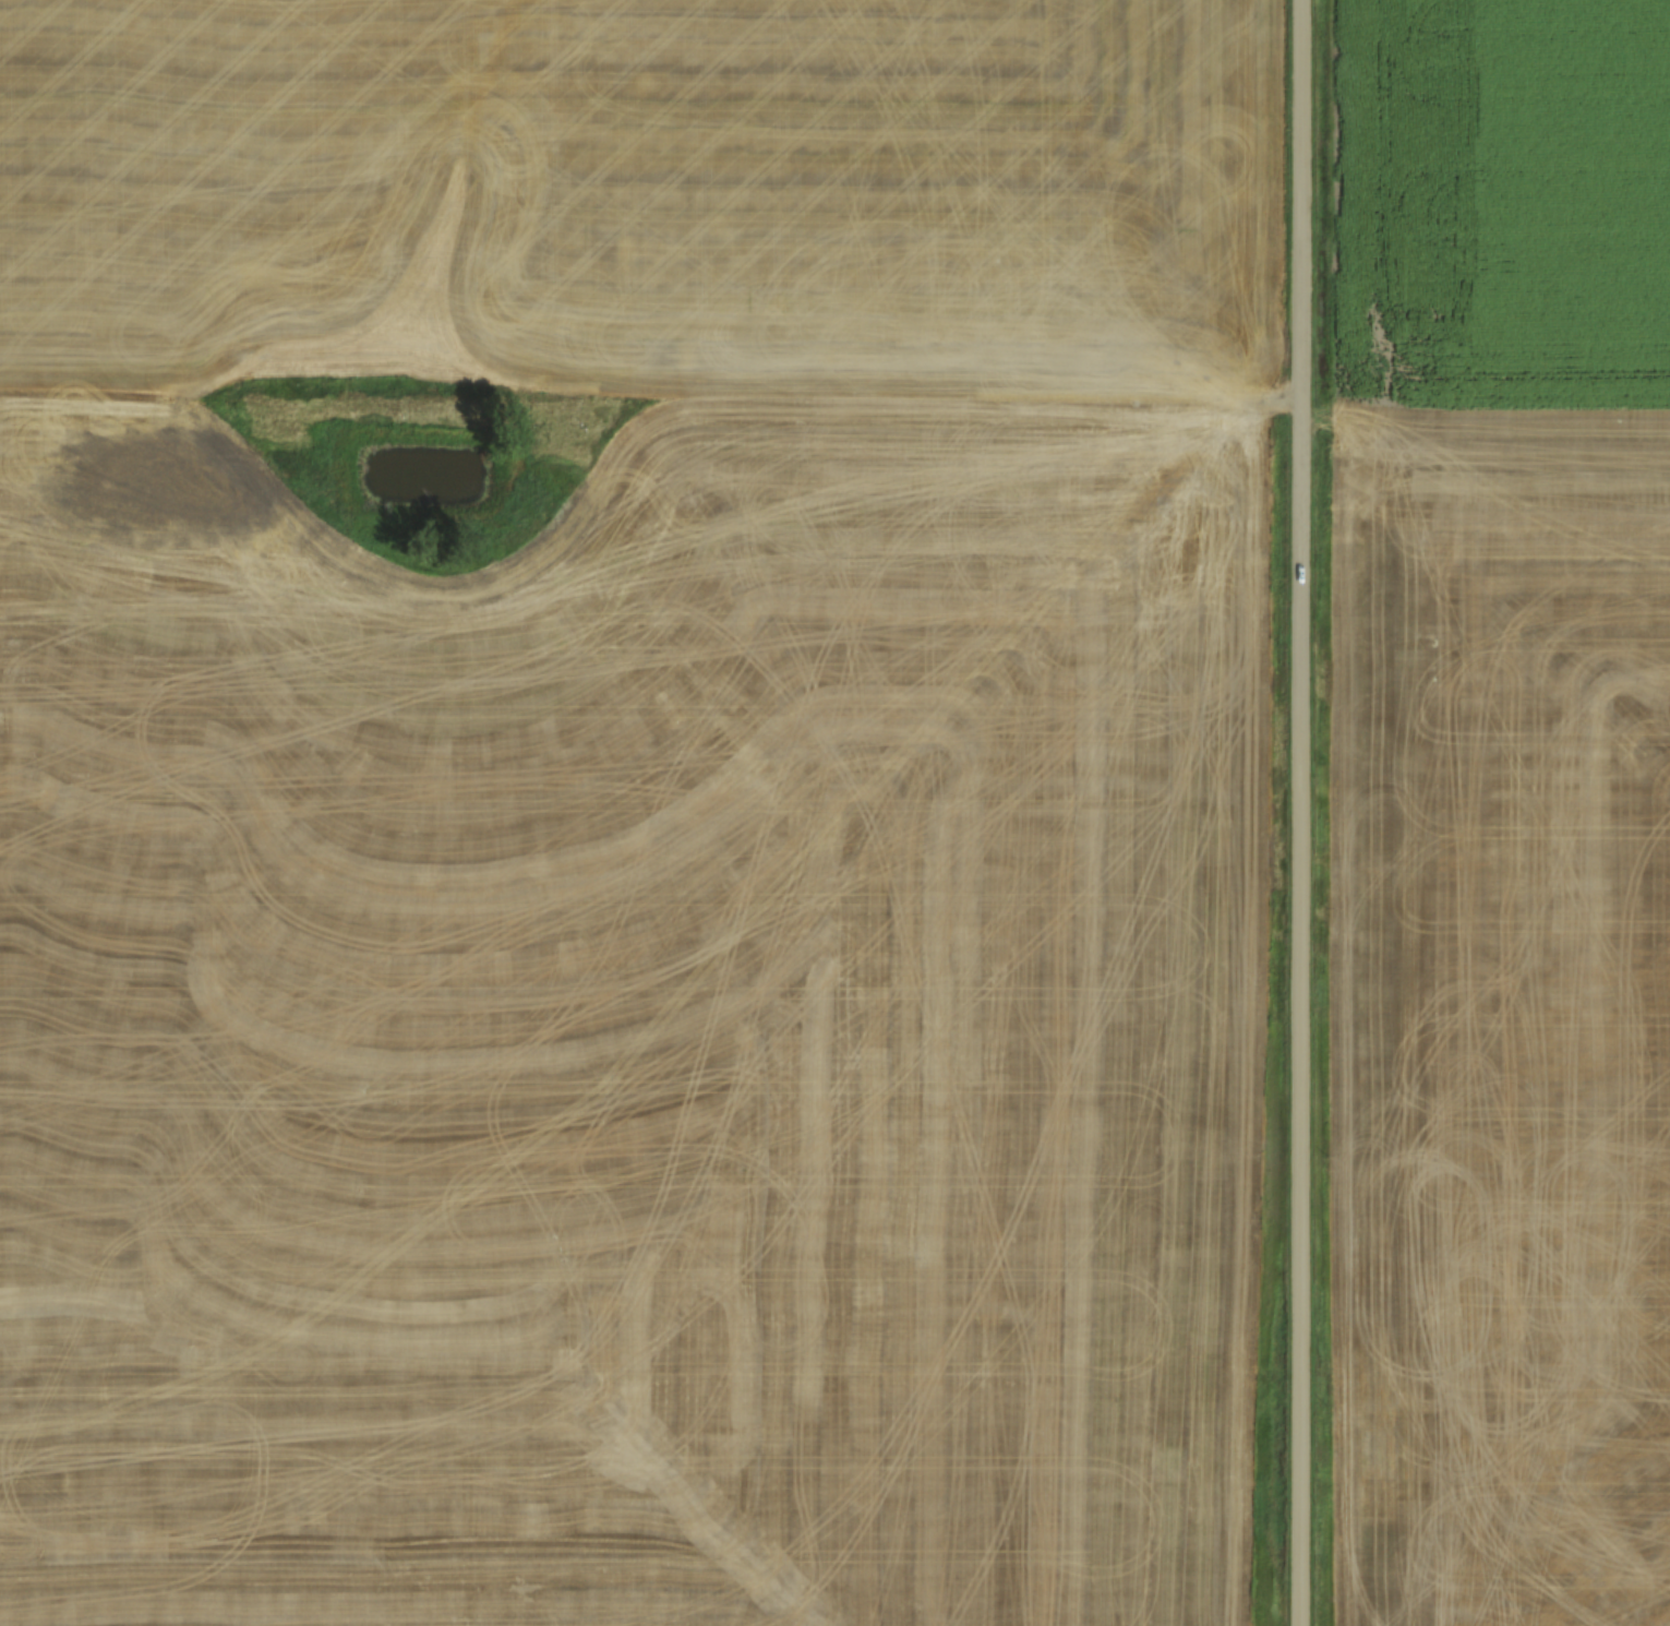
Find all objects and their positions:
road: (1297, 813)

